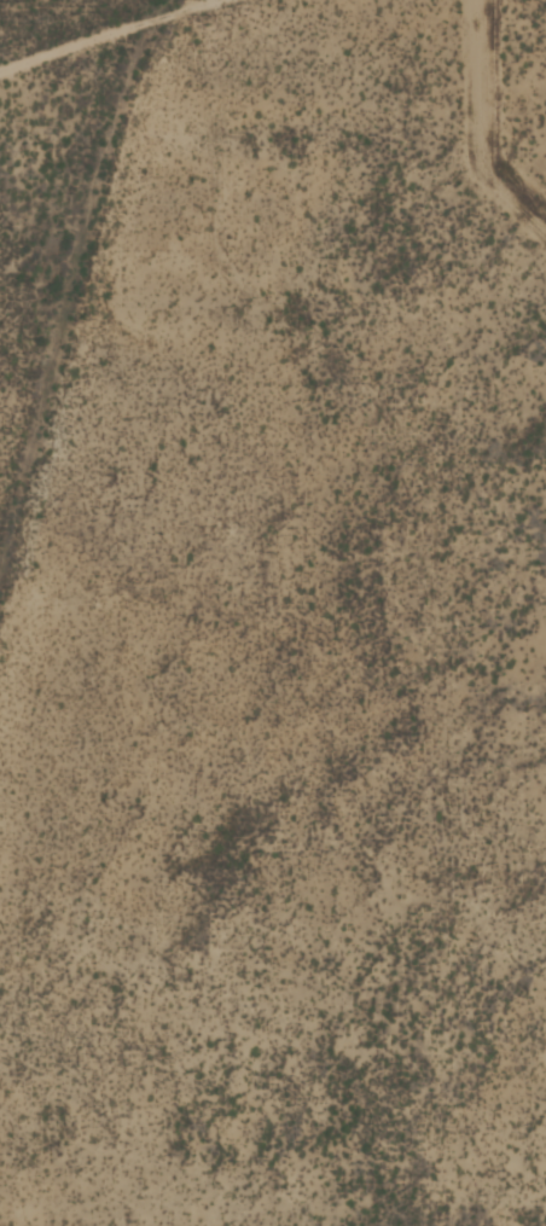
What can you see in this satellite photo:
road: (110, 36)

